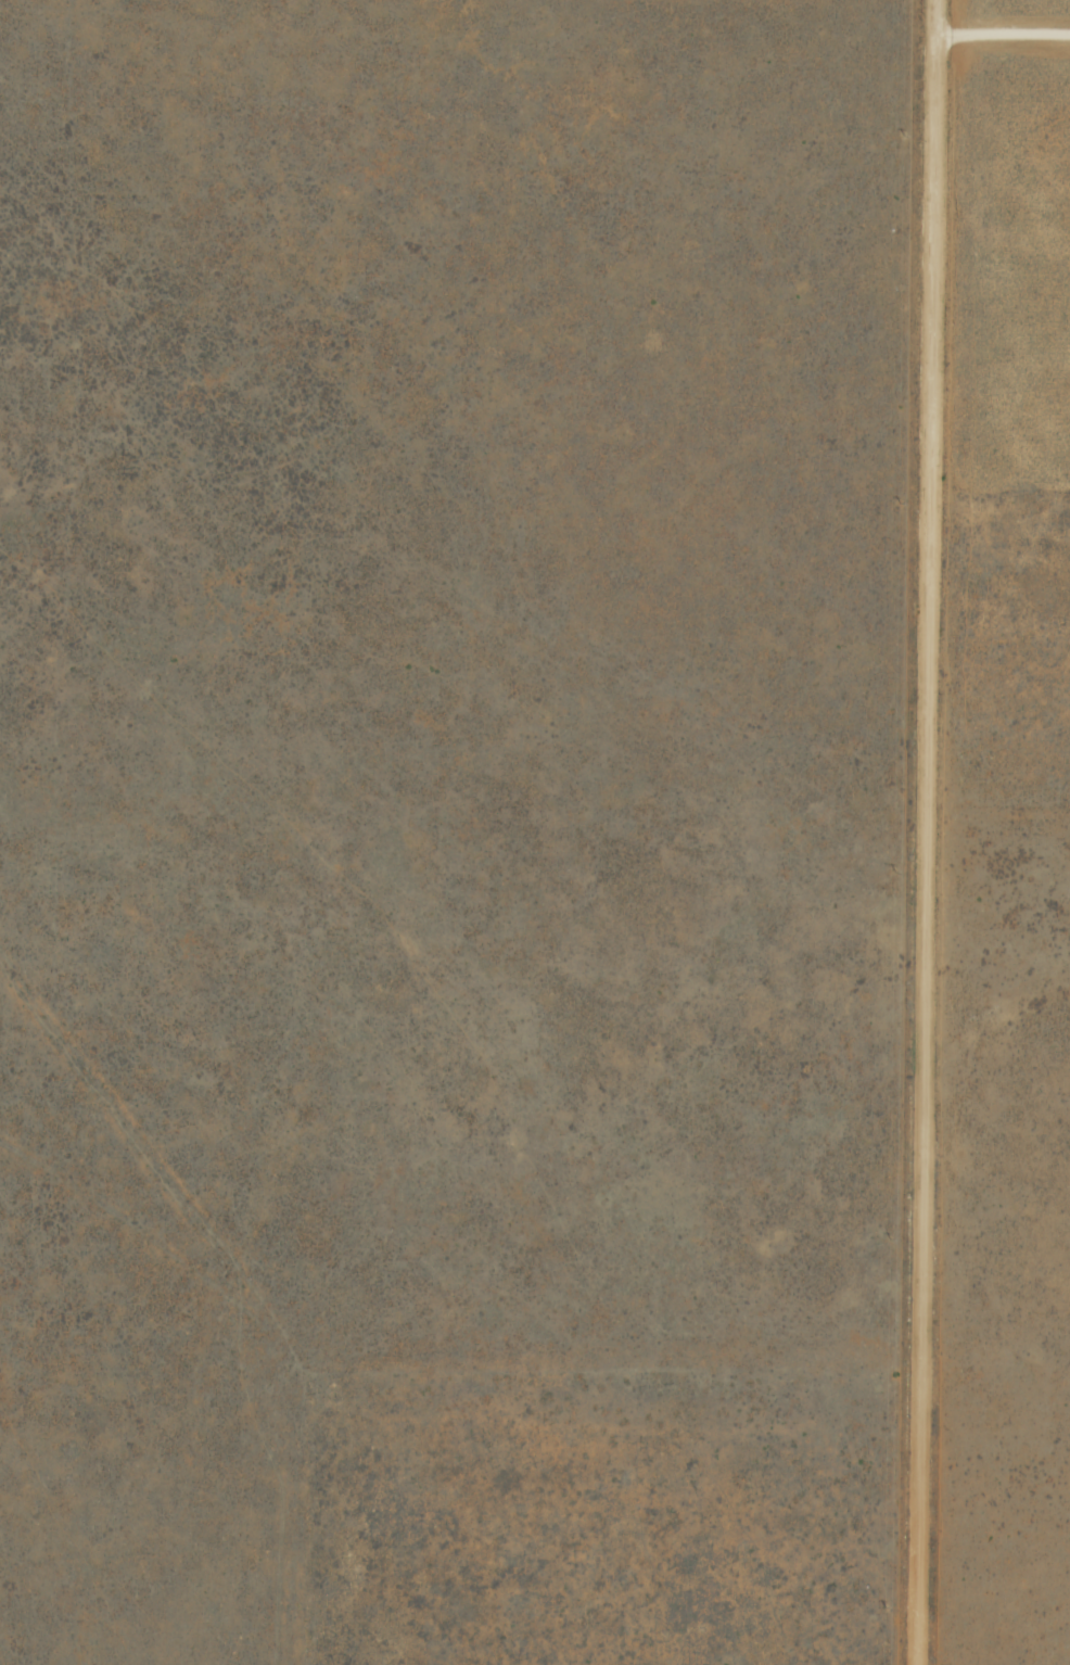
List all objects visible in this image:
road: (927, 832)

